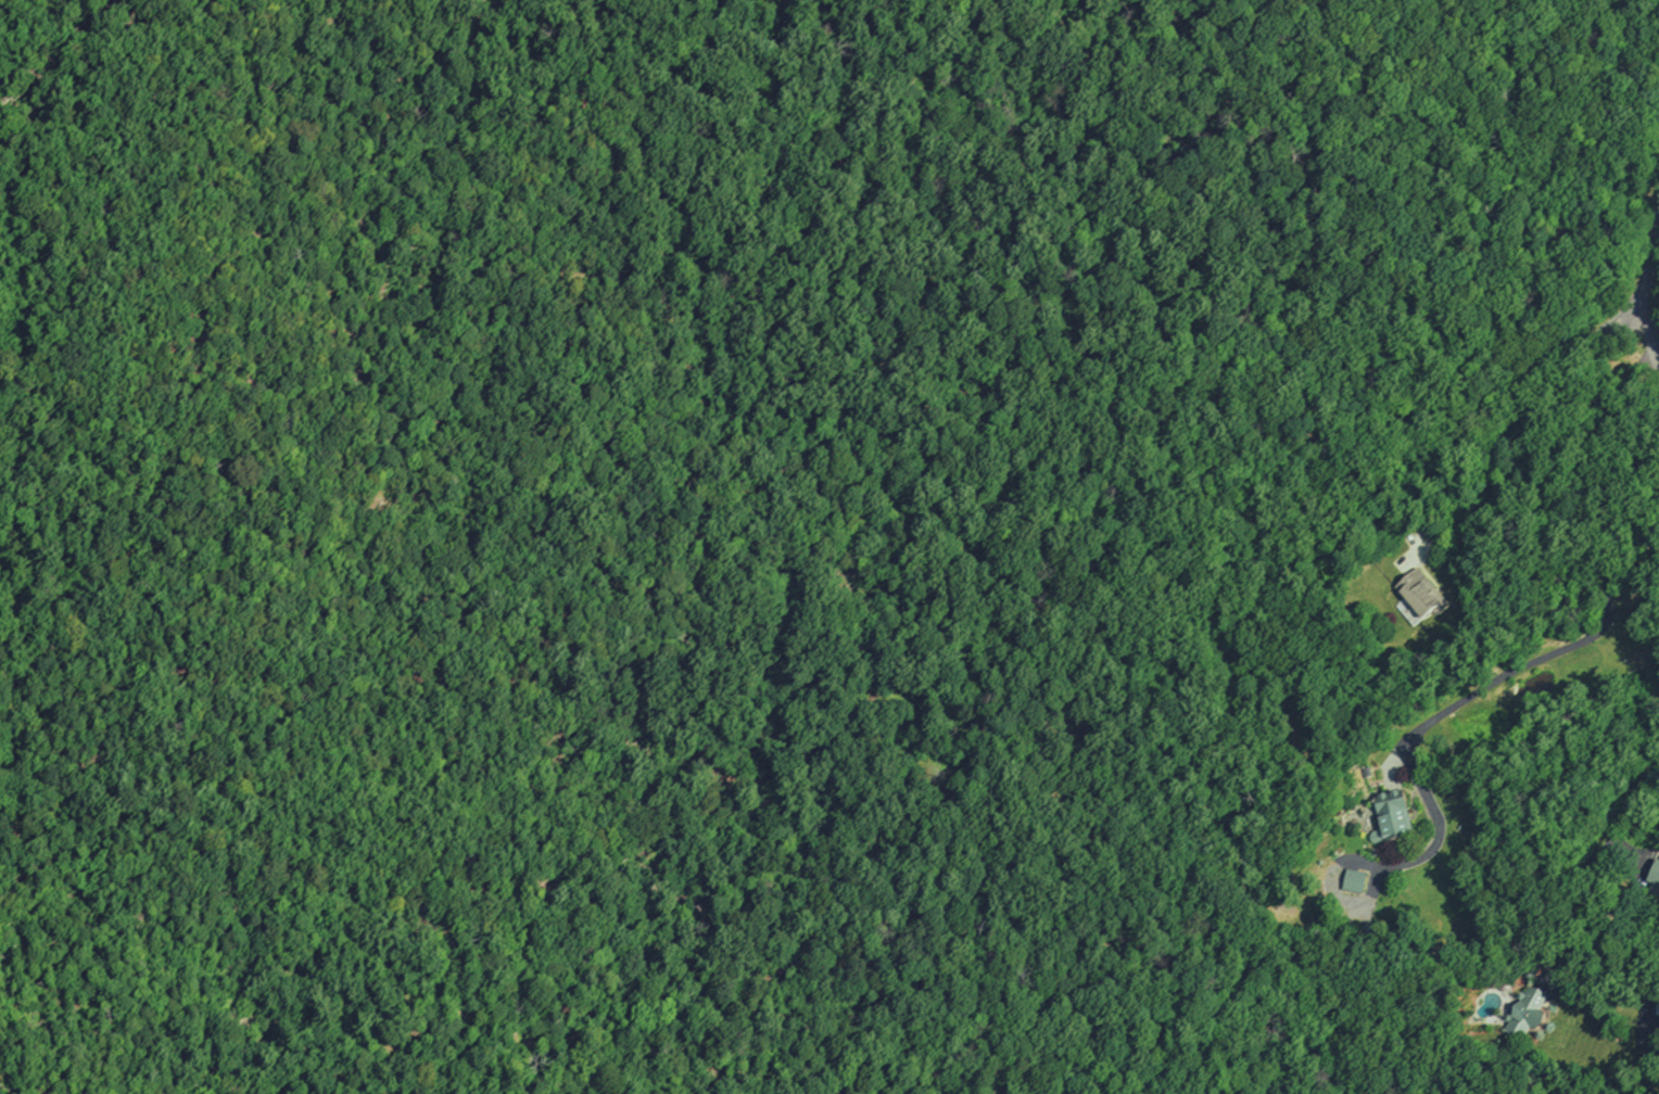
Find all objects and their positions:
road: (1651, 264)
road: (1651, 338)
road: (1522, 432)
building: (1420, 591)
road: (535, 605)
road: (1252, 615)
road: (1489, 684)
road: (907, 771)
building: (1392, 814)
road: (1594, 867)
building: (1654, 876)
building: (1354, 879)
road: (1180, 931)
road: (1616, 944)
building: (1655, 1008)
building: (1525, 1012)

